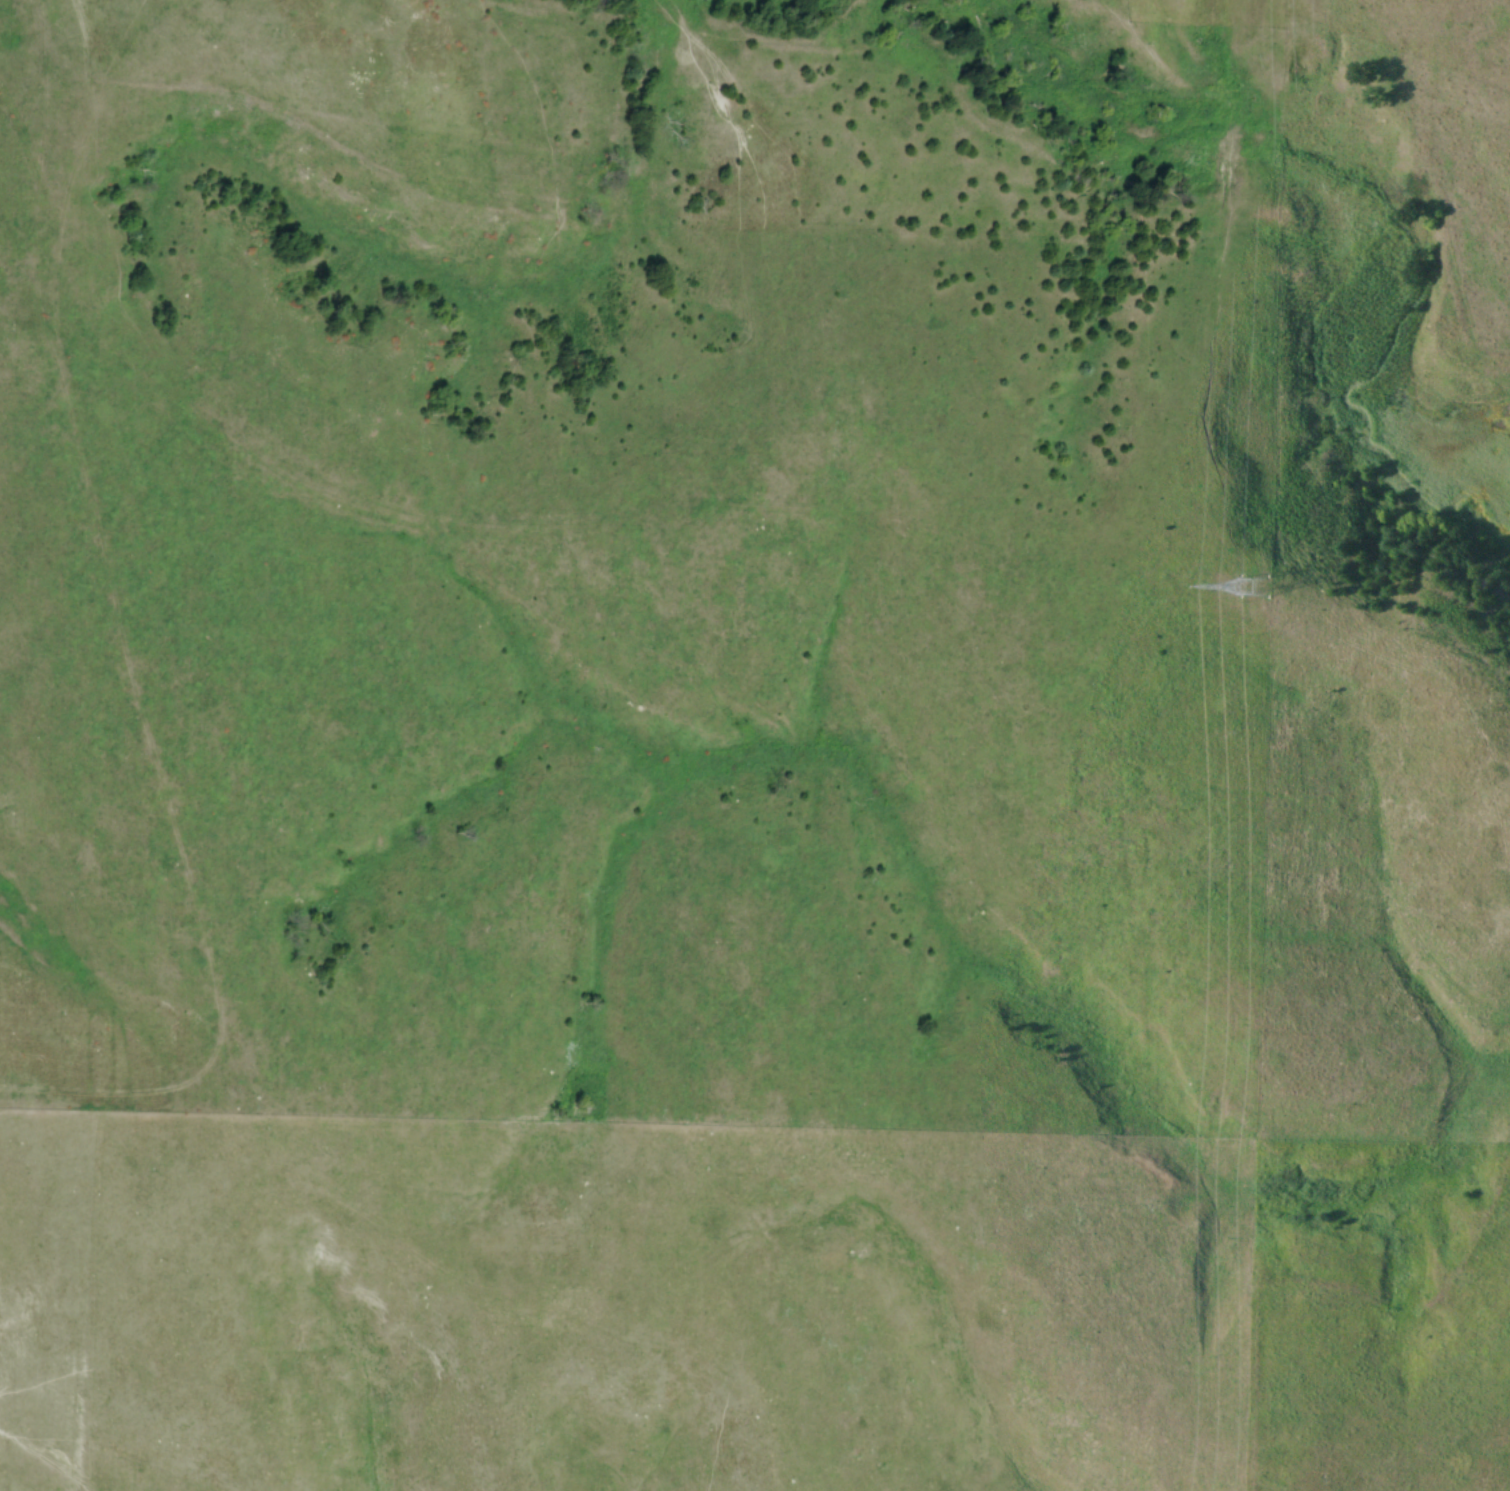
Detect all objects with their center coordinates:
power tower: (1258, 587)

